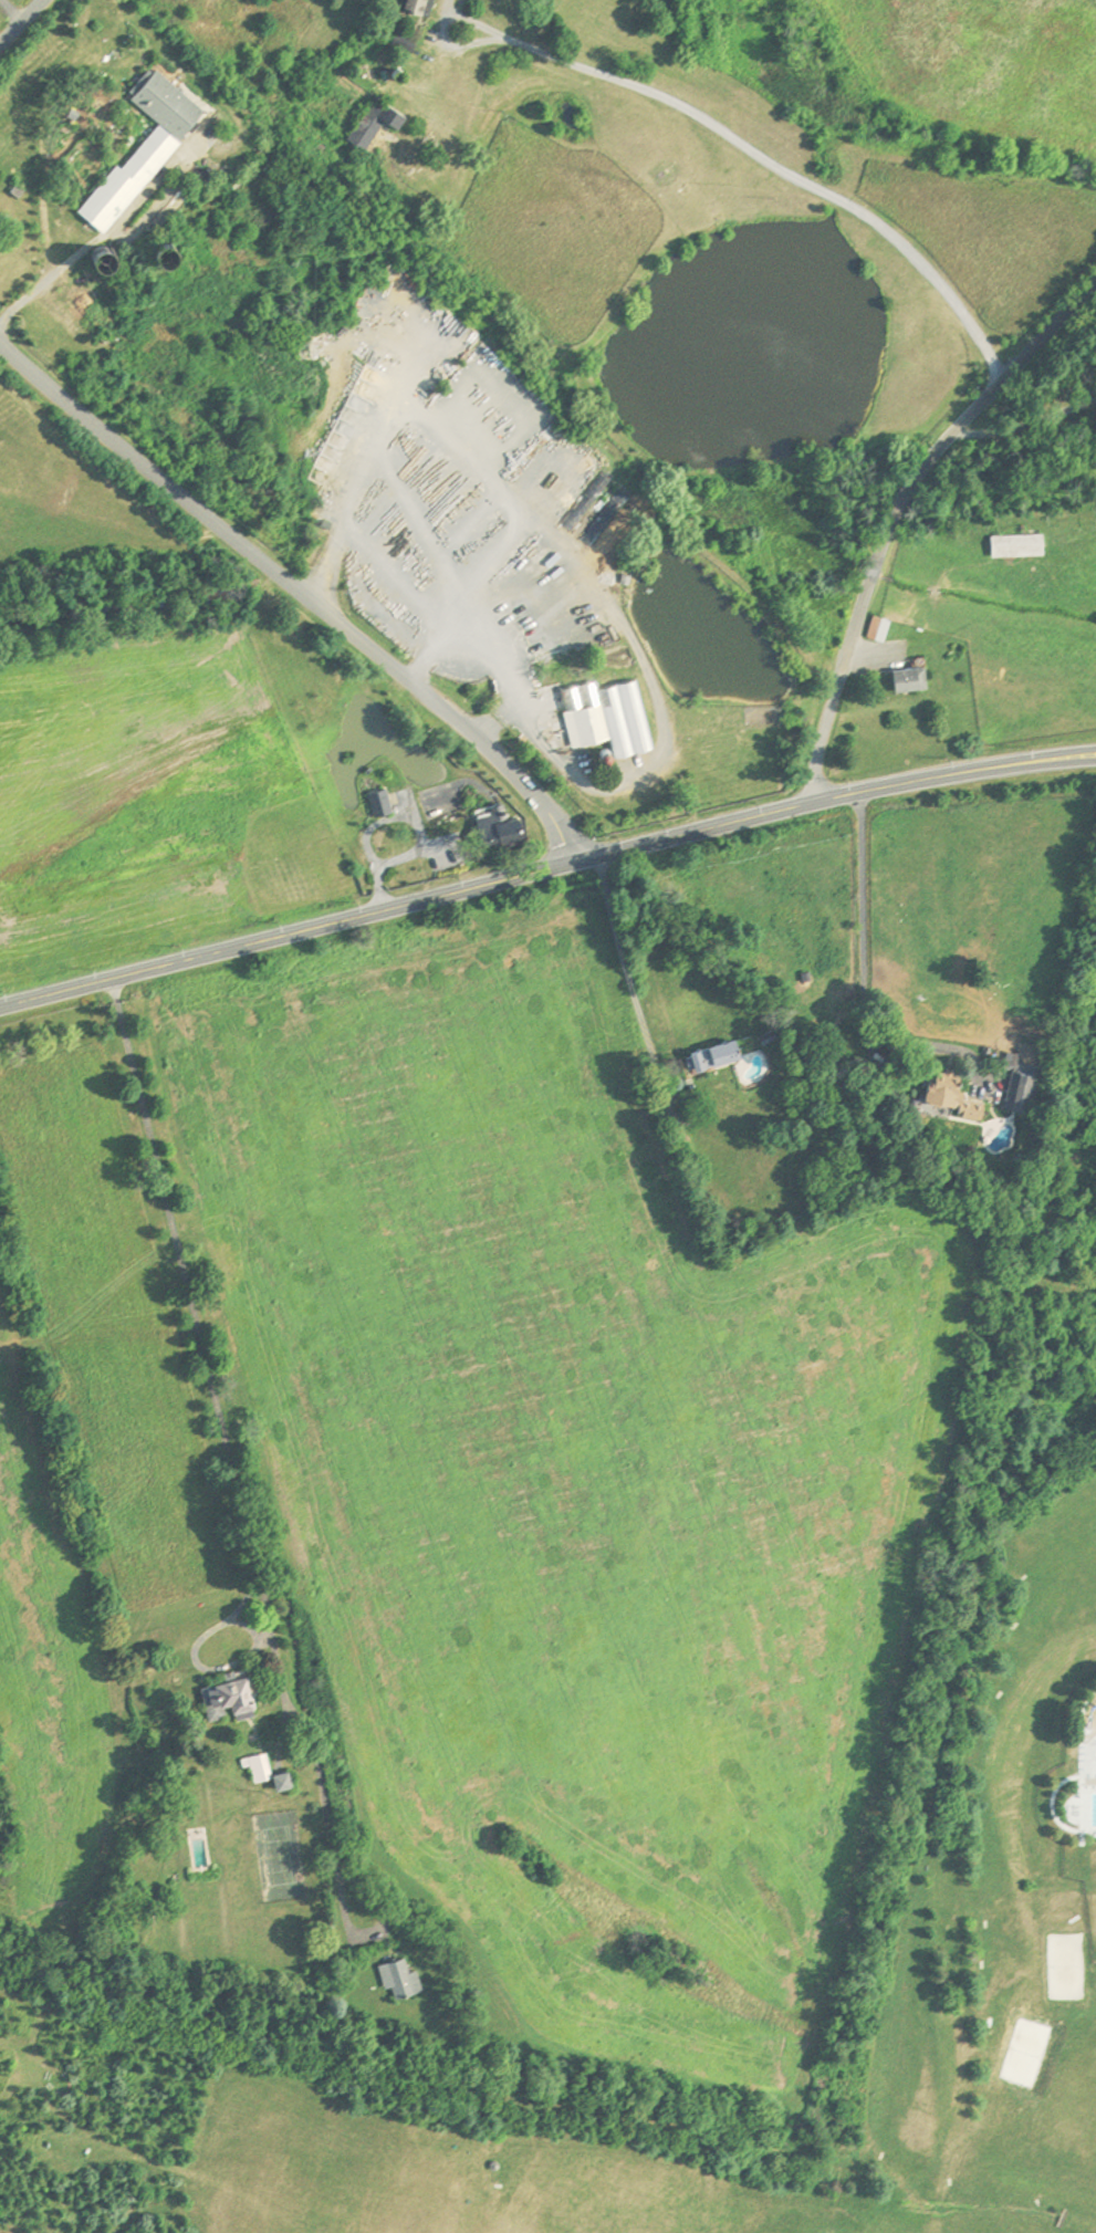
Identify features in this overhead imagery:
building: (421, 6)
road: (12, 13)
road: (24, 25)
crop: (974, 65)
building: (166, 102)
building: (378, 122)
road: (756, 159)
building: (129, 179)
building: (0, 190)
building: (167, 252)
silo: (167, 252)
building: (105, 257)
silo: (105, 257)
road: (45, 282)
road: (1025, 422)
road: (896, 512)
building: (1012, 545)
road: (301, 597)
building: (875, 628)
building: (911, 678)
road: (502, 679)
building: (606, 714)
road: (494, 719)
building: (607, 753)
road: (956, 775)
building: (368, 801)
building: (379, 802)
crop: (148, 803)
road: (385, 821)
building: (498, 826)
road: (392, 862)
road: (409, 906)
road: (623, 966)
road: (863, 969)
building: (714, 1054)
building: (1011, 1061)
road: (981, 1064)
road: (665, 1073)
building: (1022, 1089)
building: (953, 1093)
crop: (114, 1328)
park: (1037, 1427)
crop: (573, 1469)
road: (241, 1511)
road: (263, 1631)
road: (198, 1663)
crop: (45, 1676)
building: (229, 1698)
building: (272, 1768)
building: (283, 1780)
building: (300, 1782)
park: (279, 1855)
park: (1095, 1907)
park: (1064, 1963)
building: (400, 1974)
road: (36, 2231)

